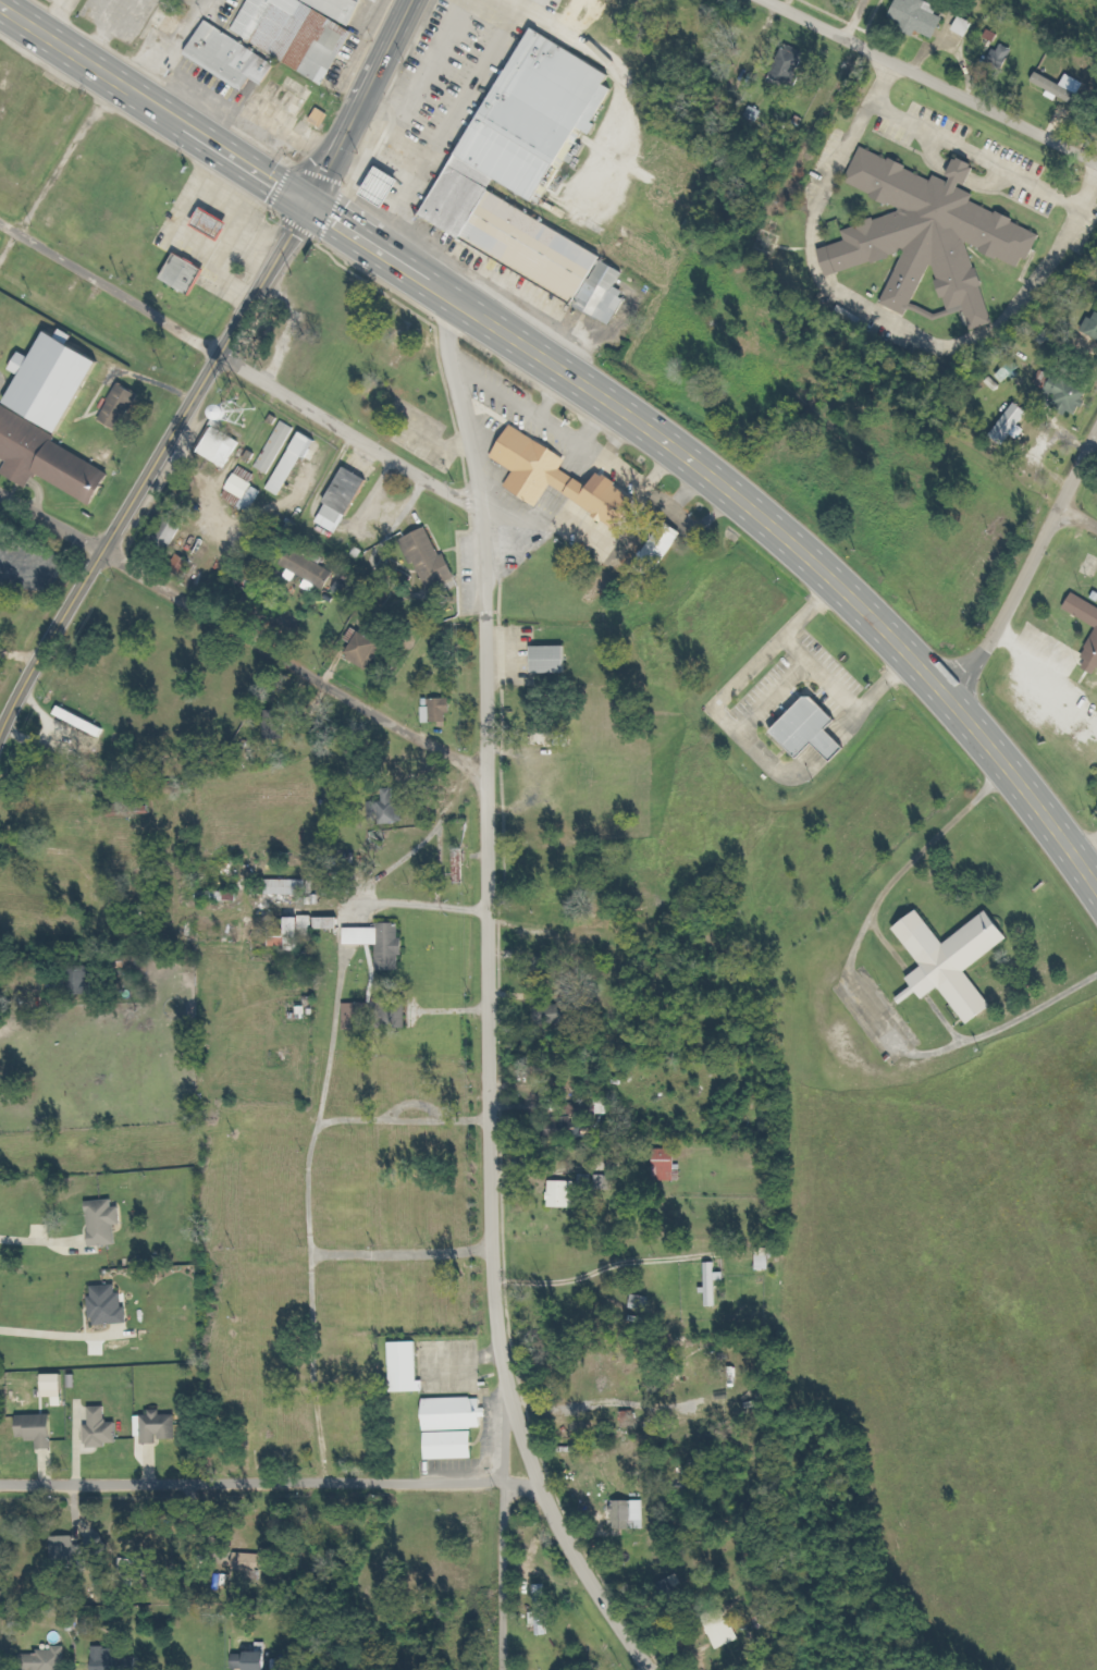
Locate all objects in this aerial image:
building: (923, 16)
building: (604, 17)
road: (856, 22)
building: (173, 26)
building: (969, 26)
building: (294, 34)
building: (1004, 56)
building: (234, 58)
building: (792, 66)
road: (925, 82)
building: (1065, 87)
road: (361, 100)
building: (260, 110)
building: (271, 113)
building: (535, 115)
building: (323, 118)
building: (296, 124)
road: (222, 162)
road: (56, 170)
building: (390, 186)
building: (457, 196)
building: (219, 224)
parking lot: (218, 232)
building: (934, 233)
building: (531, 247)
railway: (677, 247)
gas station: (182, 273)
building: (190, 274)
road: (108, 287)
building: (1095, 331)
building: (59, 381)
road: (592, 393)
building: (1074, 394)
building: (124, 406)
building: (1016, 425)
road: (346, 431)
building: (224, 443)
building: (278, 447)
building: (49, 457)
building: (297, 462)
road: (151, 465)
building: (564, 478)
building: (347, 501)
road: (1077, 519)
road: (51, 521)
building: (172, 533)
building: (667, 545)
building: (433, 560)
building: (312, 569)
road: (1027, 569)
building: (596, 595)
building: (1085, 609)
building: (369, 651)
building: (1093, 656)
building: (555, 660)
road: (293, 666)
building: (442, 711)
building: (85, 722)
building: (817, 729)
building: (390, 809)
building: (289, 887)
building: (215, 896)
building: (332, 923)
building: (296, 933)
building: (385, 944)
building: (958, 961)
building: (88, 980)
road: (486, 1003)
building: (557, 1015)
building: (358, 1017)
building: (668, 1165)
building: (606, 1182)
building: (566, 1194)
road: (307, 1217)
building: (109, 1223)
road: (402, 1254)
building: (712, 1282)
building: (112, 1306)
building: (405, 1368)
building: (59, 1389)
building: (451, 1427)
building: (162, 1428)
building: (106, 1429)
building: (41, 1430)
road: (271, 1482)
building: (630, 1514)
building: (97, 1545)
building: (258, 1561)
road: (502, 1575)
building: (720, 1628)
building: (103, 1658)
building: (47, 1659)
building: (249, 1660)

